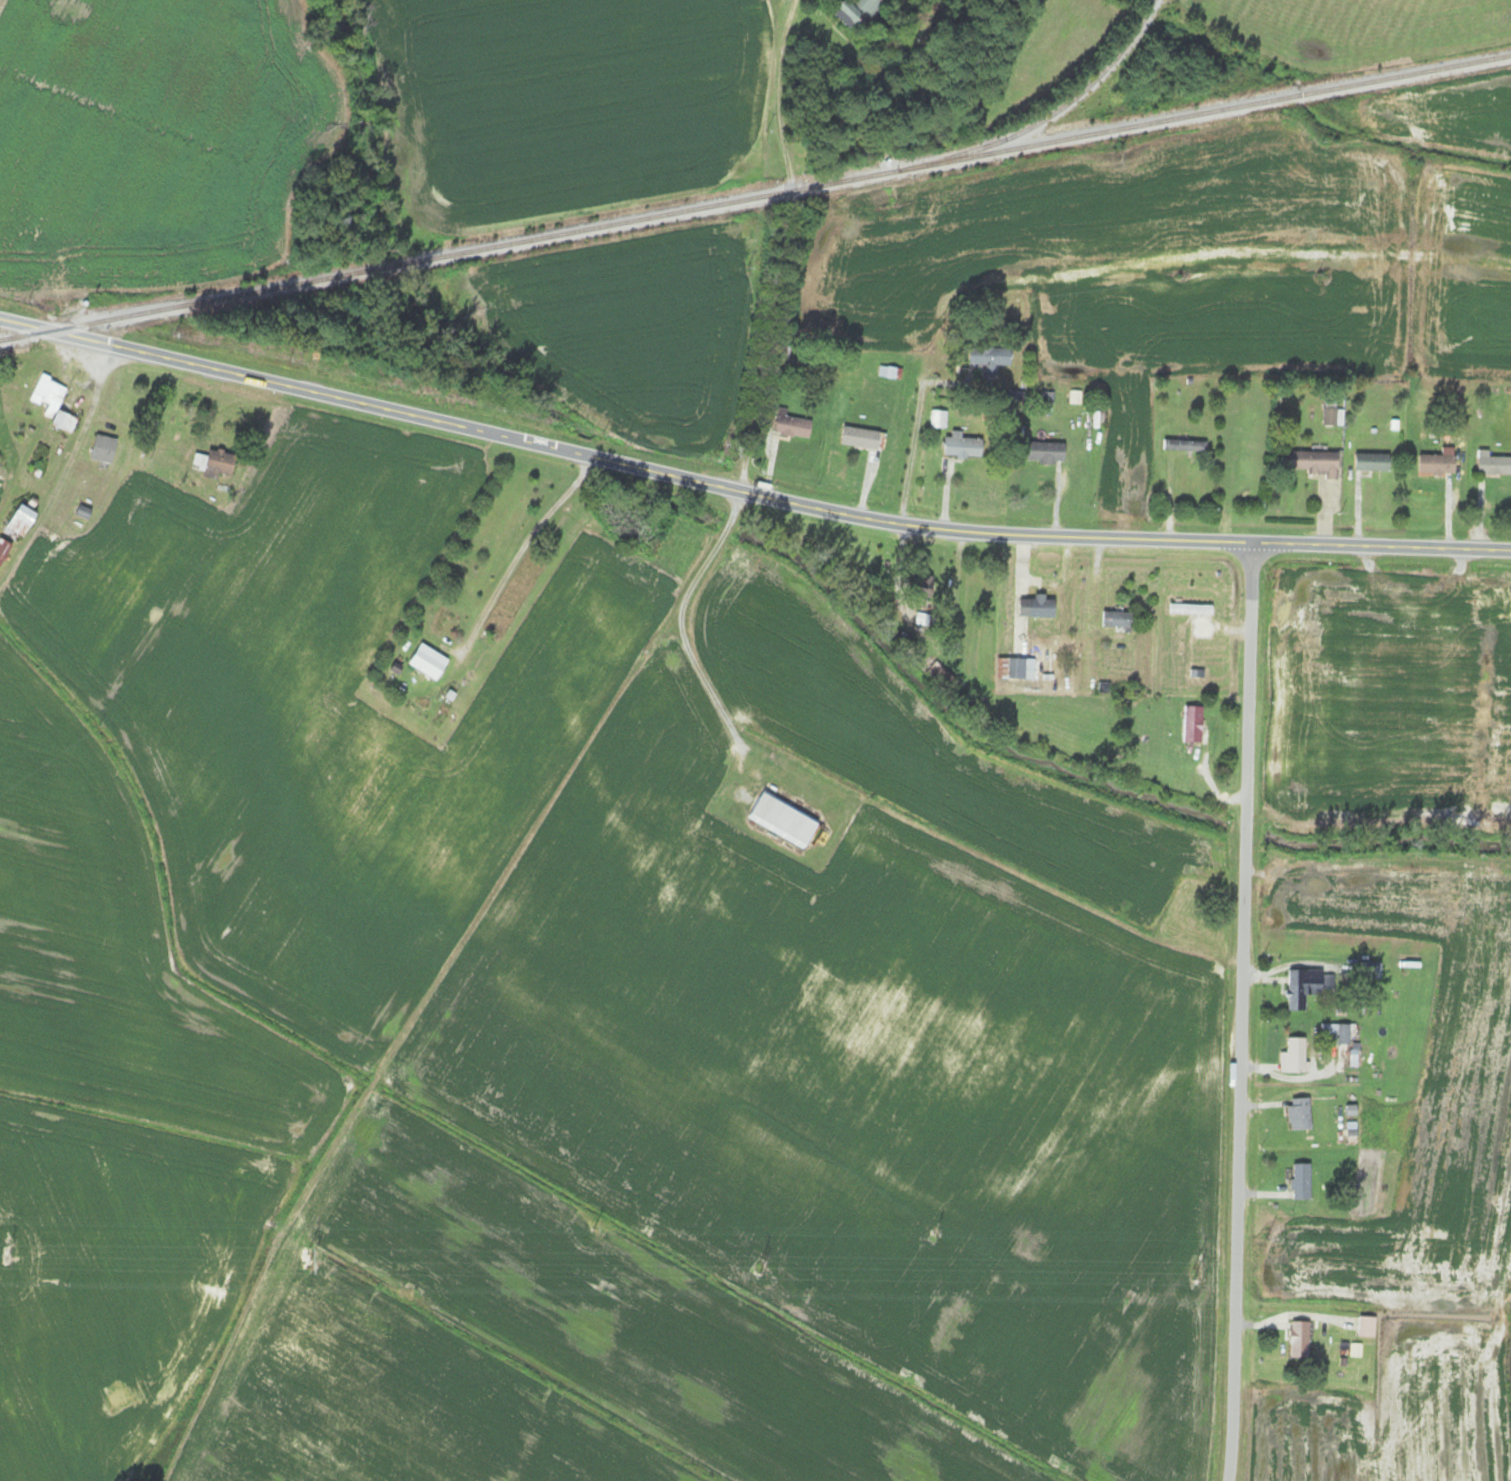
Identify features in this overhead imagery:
building: (855, 11)
railway: (1047, 117)
railway: (755, 197)
building: (786, 353)
building: (989, 356)
building: (52, 401)
building: (1327, 417)
building: (937, 418)
building: (789, 424)
building: (858, 437)
building: (960, 445)
building: (1182, 445)
building: (101, 448)
building: (1044, 452)
building: (1371, 461)
building: (1311, 462)
building: (214, 463)
building: (1435, 463)
building: (1492, 463)
road: (747, 493)
building: (81, 511)
building: (19, 520)
building: (3, 548)
building: (1035, 606)
building: (1193, 608)
building: (1116, 618)
building: (427, 661)
building: (1013, 668)
building: (1191, 723)
building: (781, 819)
building: (1369, 970)
building: (1303, 987)
road: (1240, 1012)
building: (1334, 1033)
building: (1292, 1055)
building: (1297, 1113)
building: (1299, 1182)
power tower: (2, 1255)
power tower: (300, 1261)
power tower: (756, 1267)
power tower: (1193, 1274)
building: (1365, 1326)
building: (1298, 1339)

